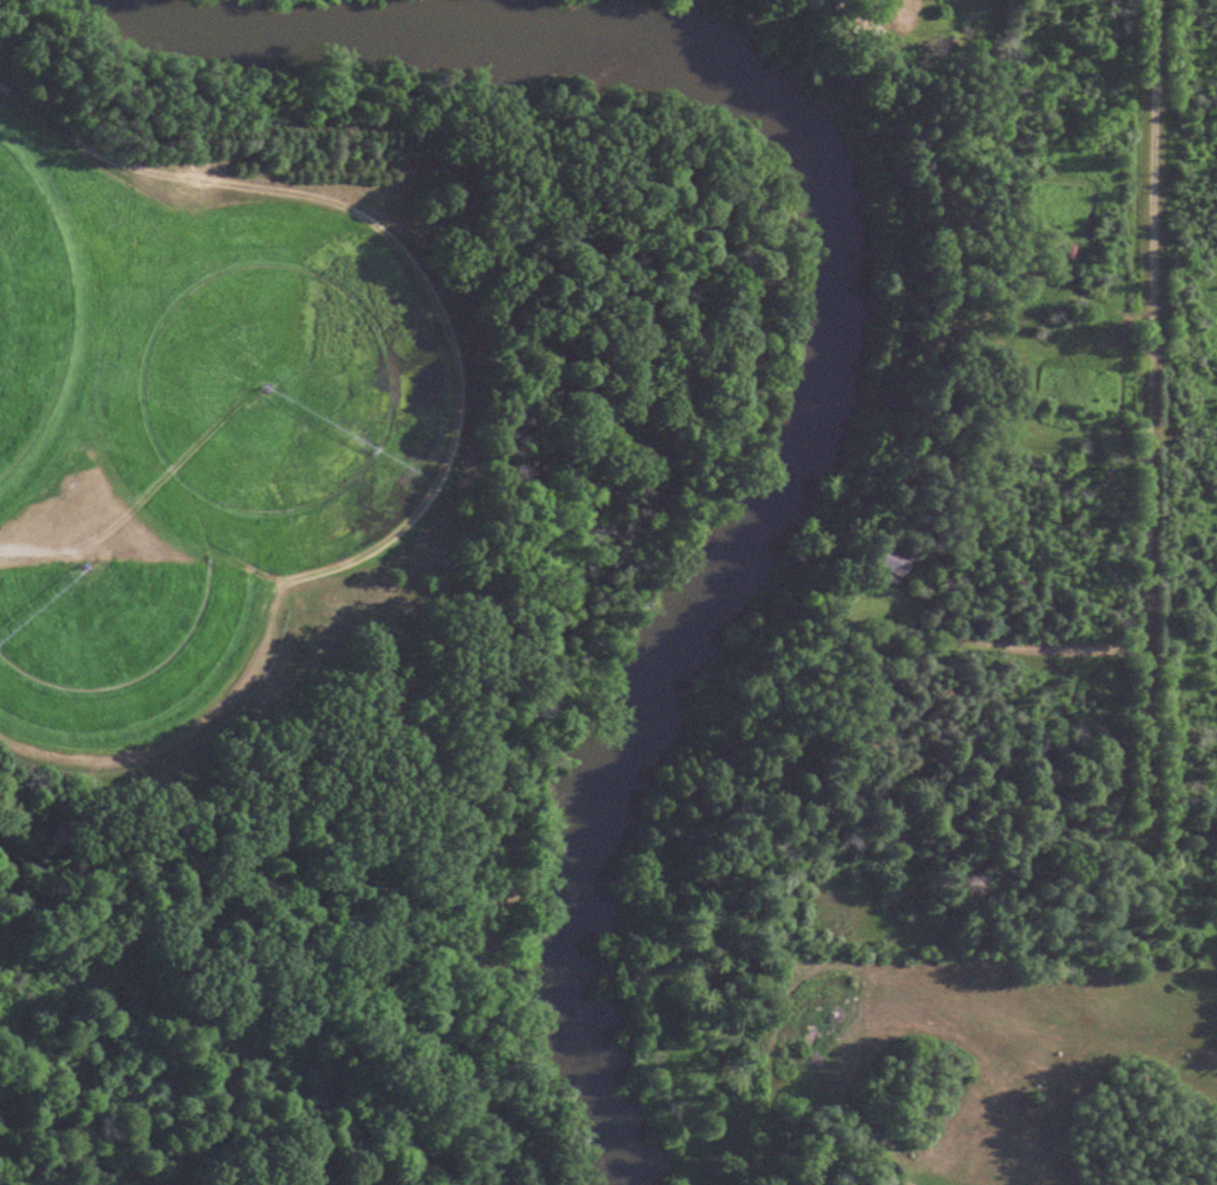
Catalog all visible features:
river: (831, 333)
road: (1150, 419)
building: (894, 568)

